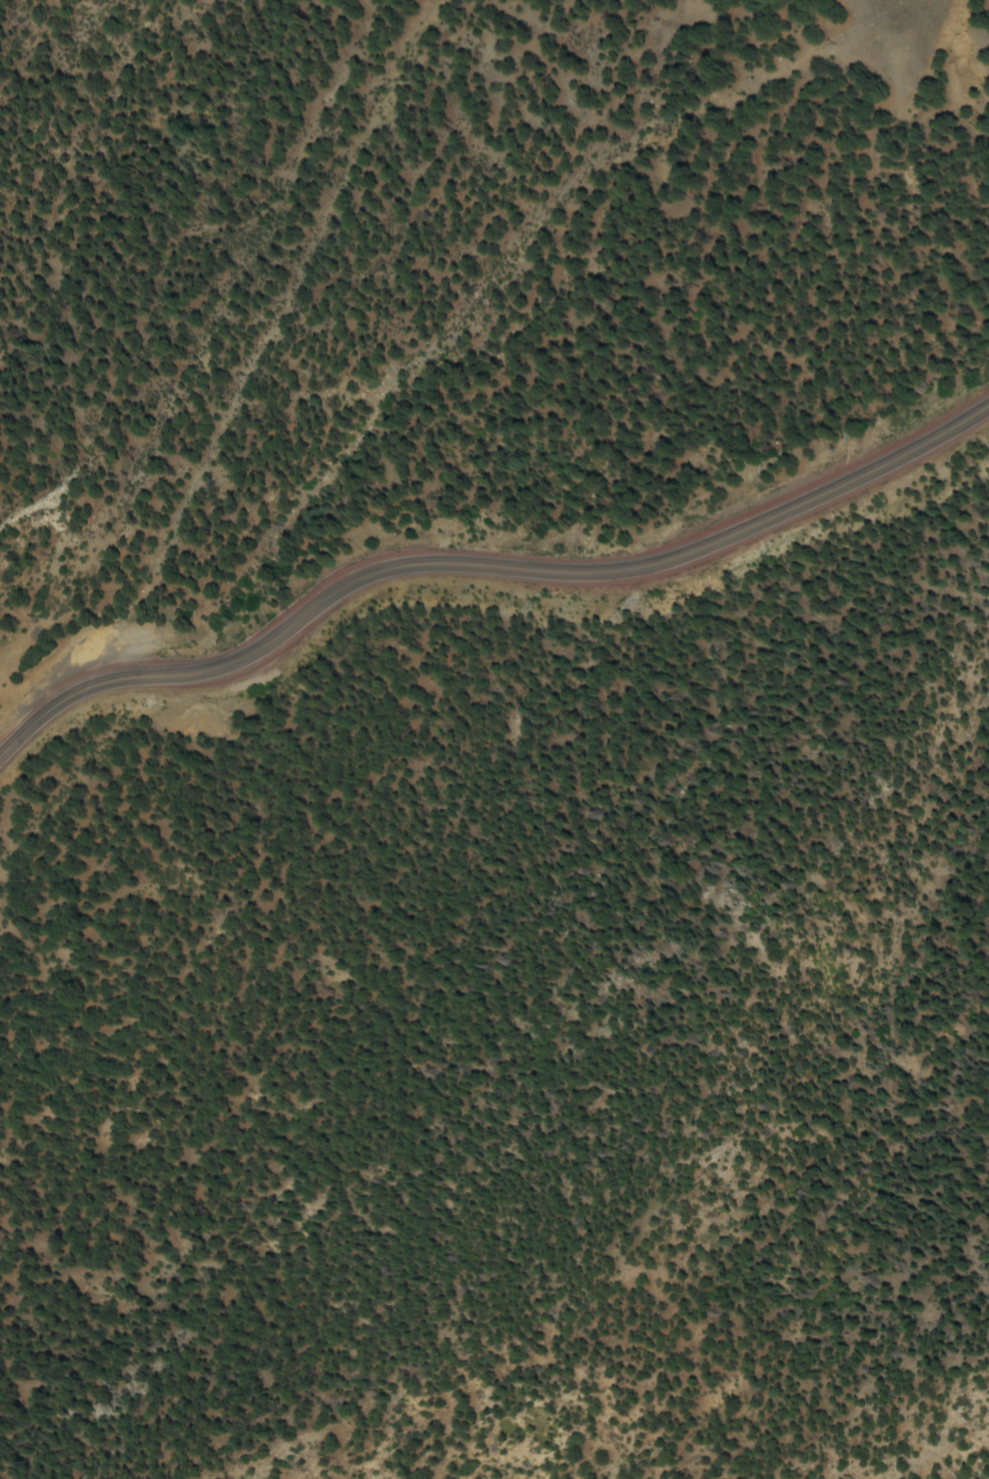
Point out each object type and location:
road: (484, 565)

